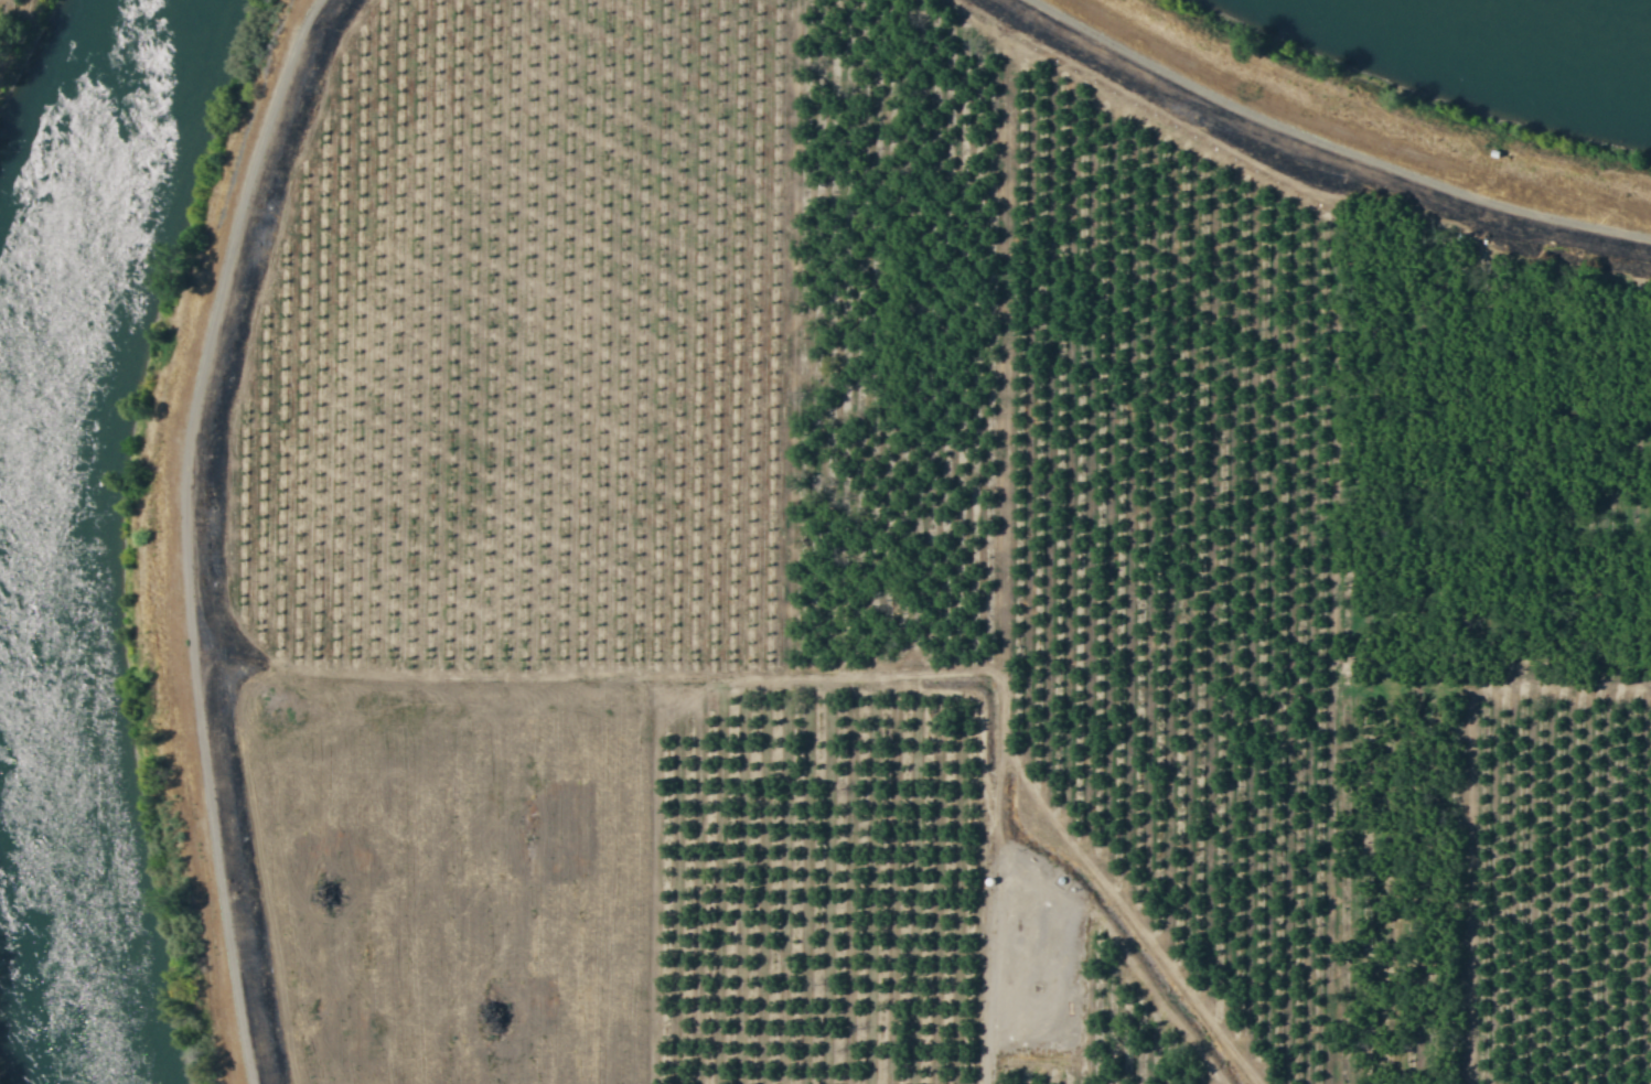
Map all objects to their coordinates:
river: (1553, 32)
road: (1312, 149)
river: (46, 533)
road: (249, 533)

